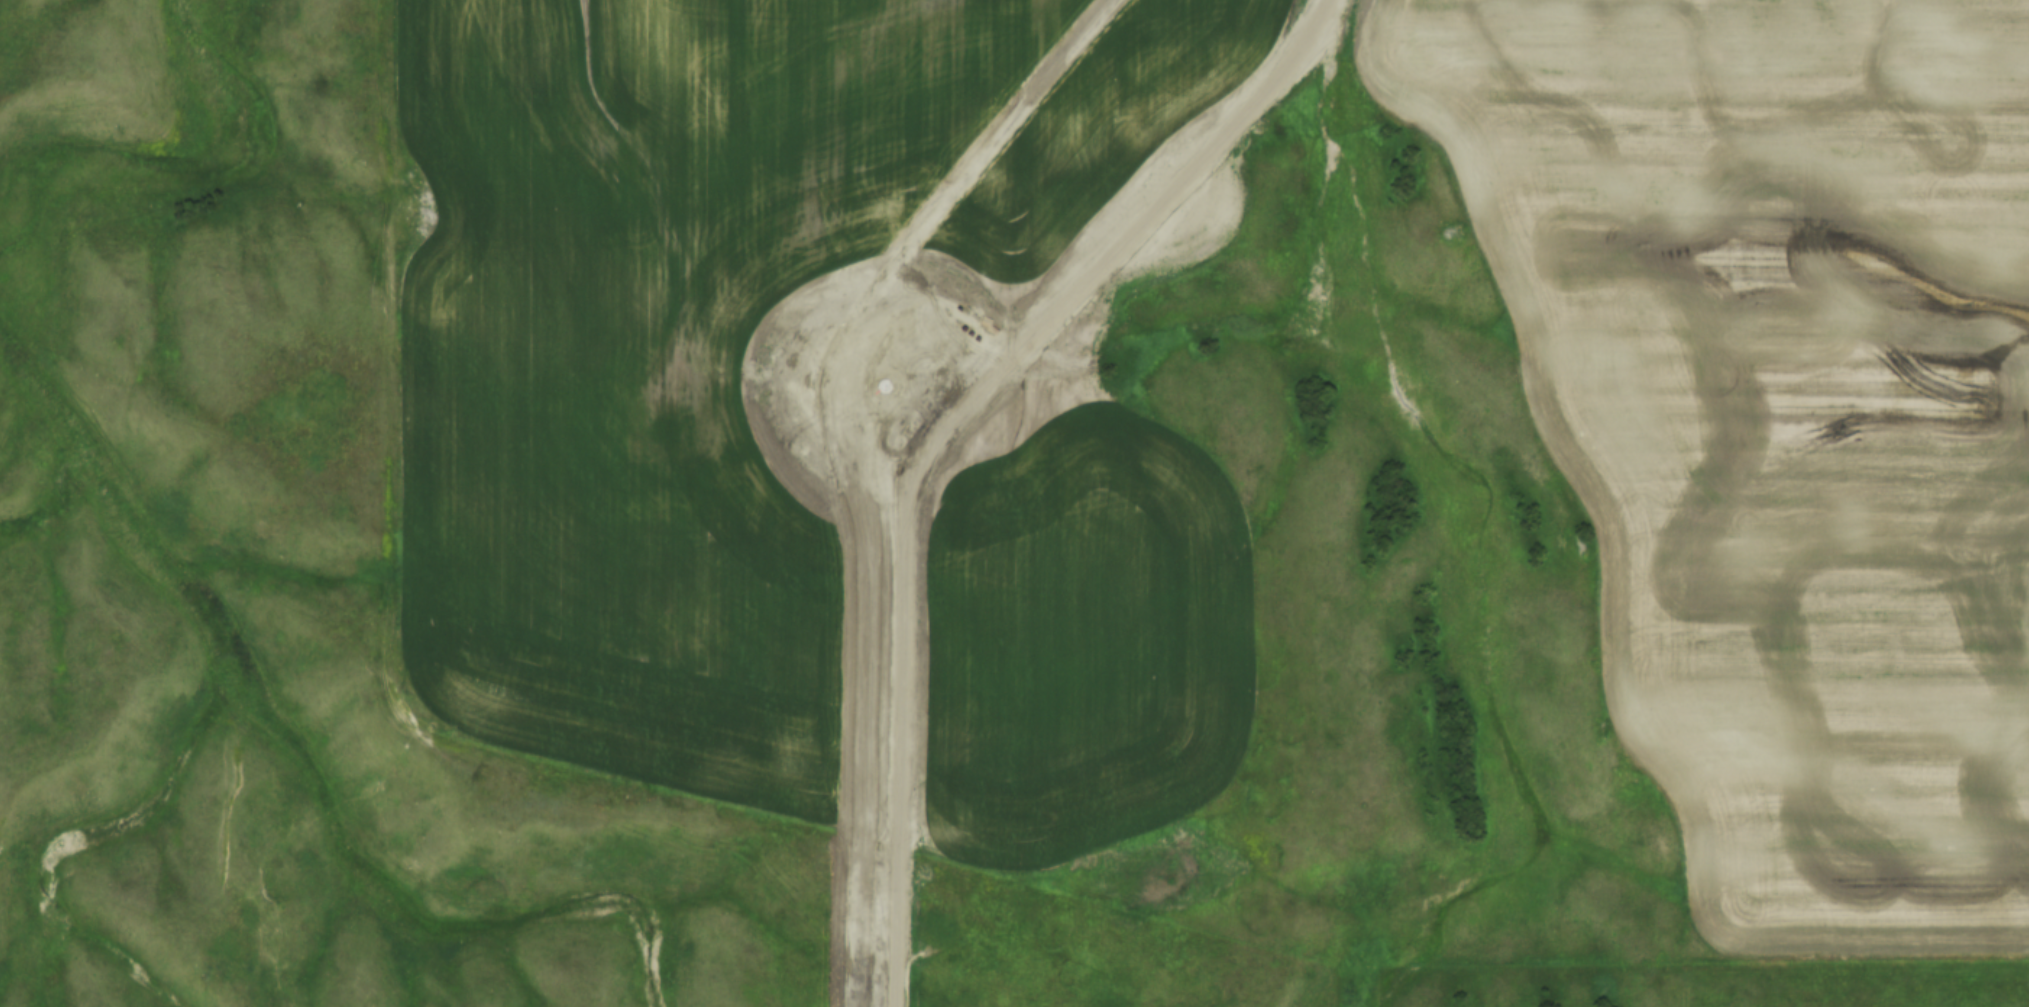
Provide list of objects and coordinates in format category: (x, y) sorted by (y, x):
wind turbine: (885, 385)

